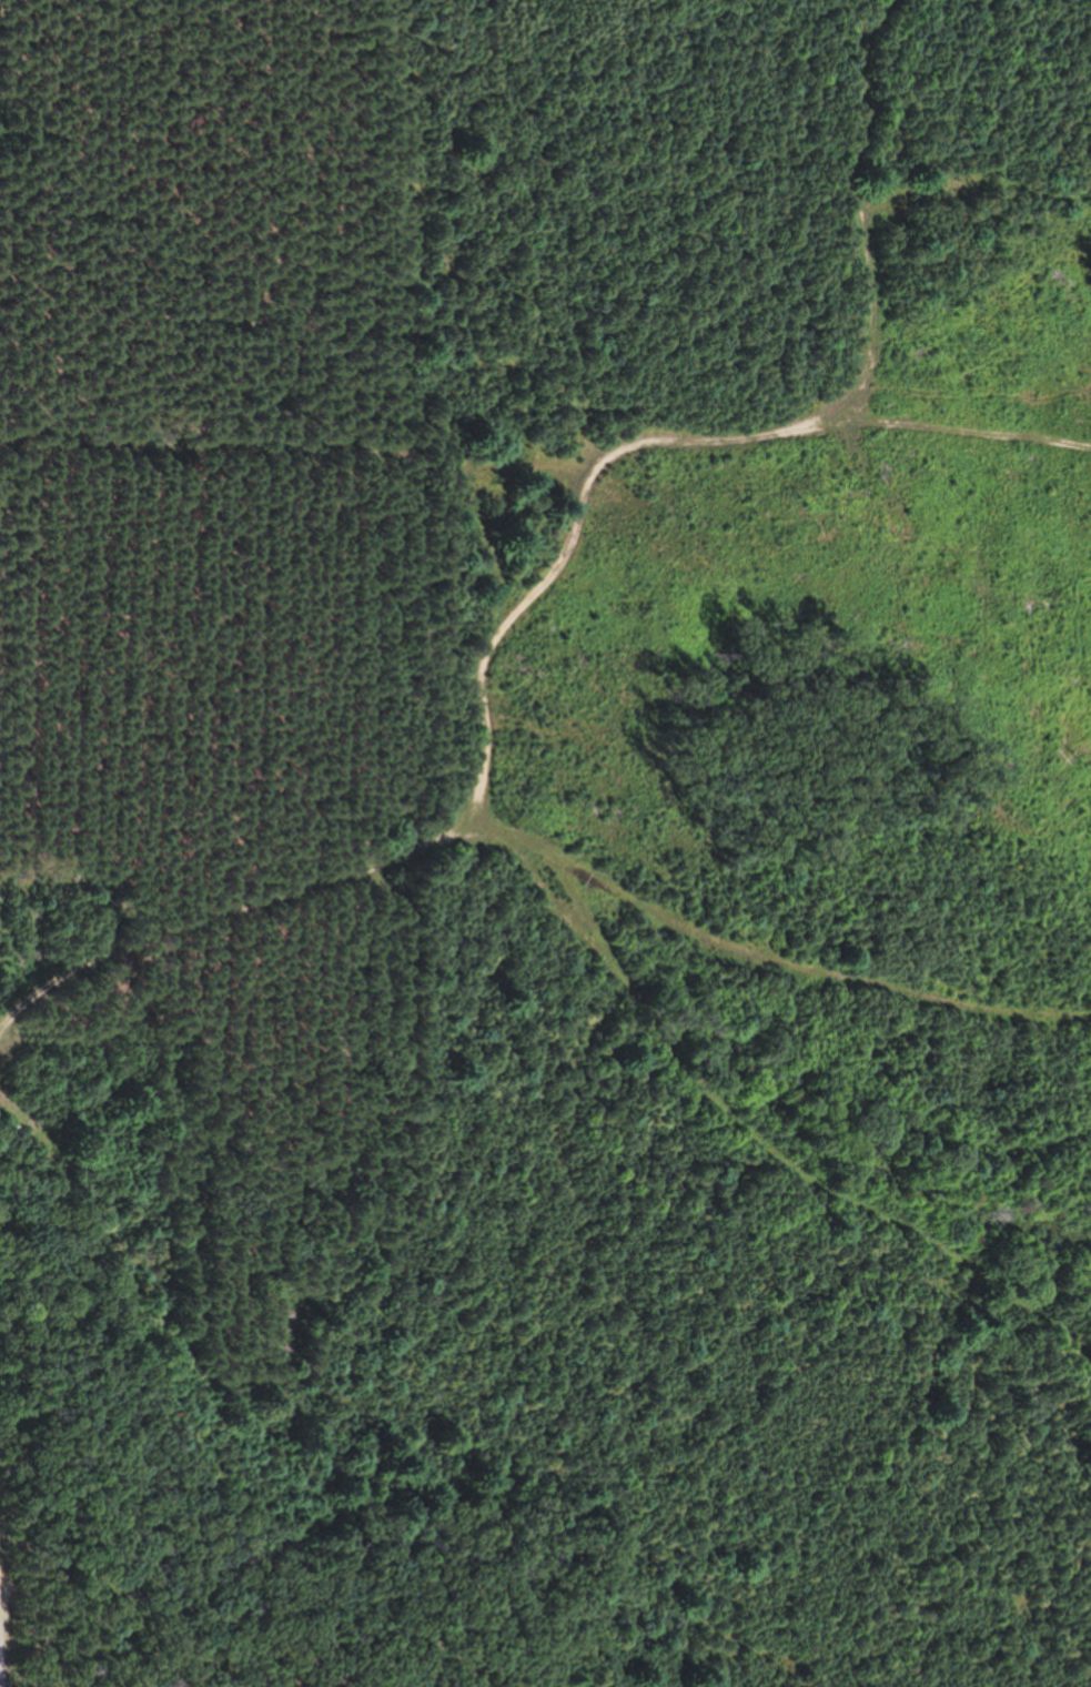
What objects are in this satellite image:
road: (249, 897)
road: (1, 1661)

